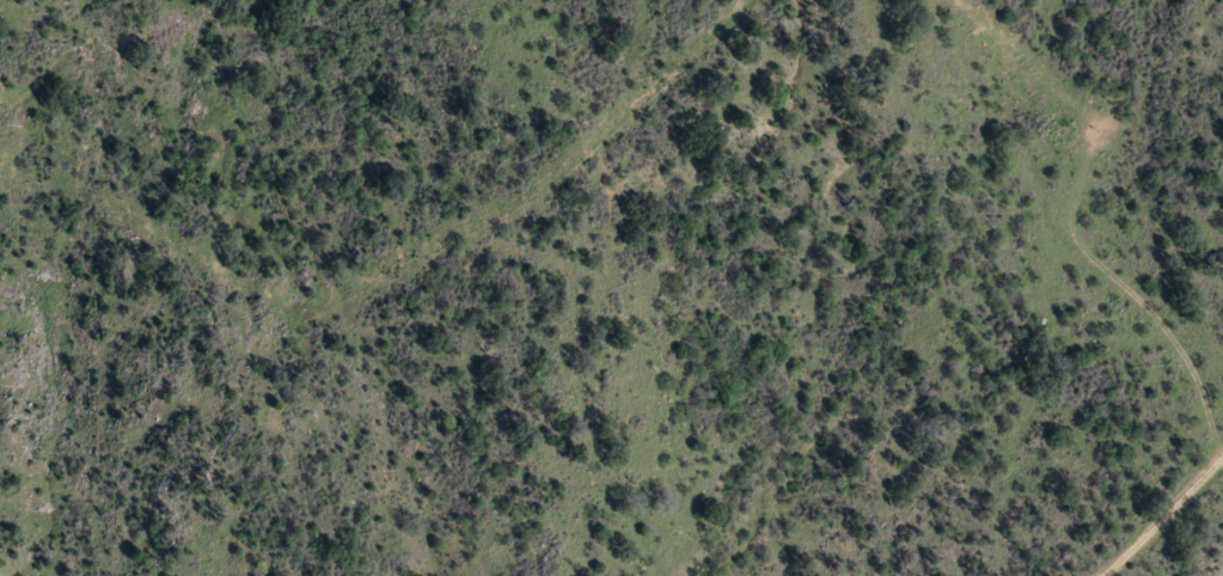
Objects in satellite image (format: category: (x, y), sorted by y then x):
road: (1166, 515)

